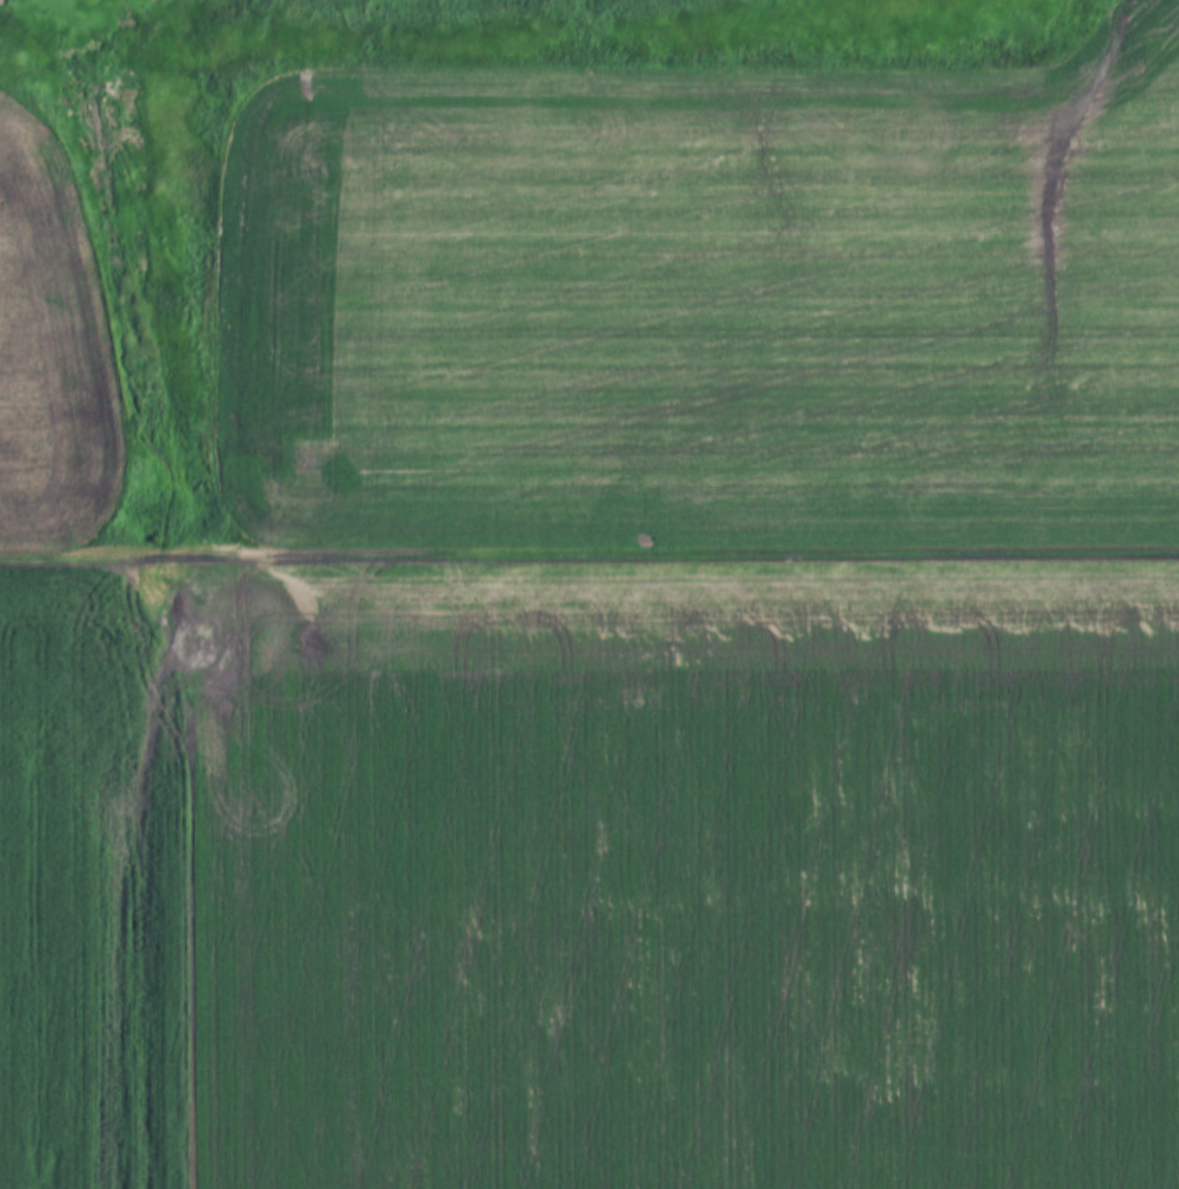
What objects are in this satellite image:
road: (589, 553)
crop: (590, 879)

